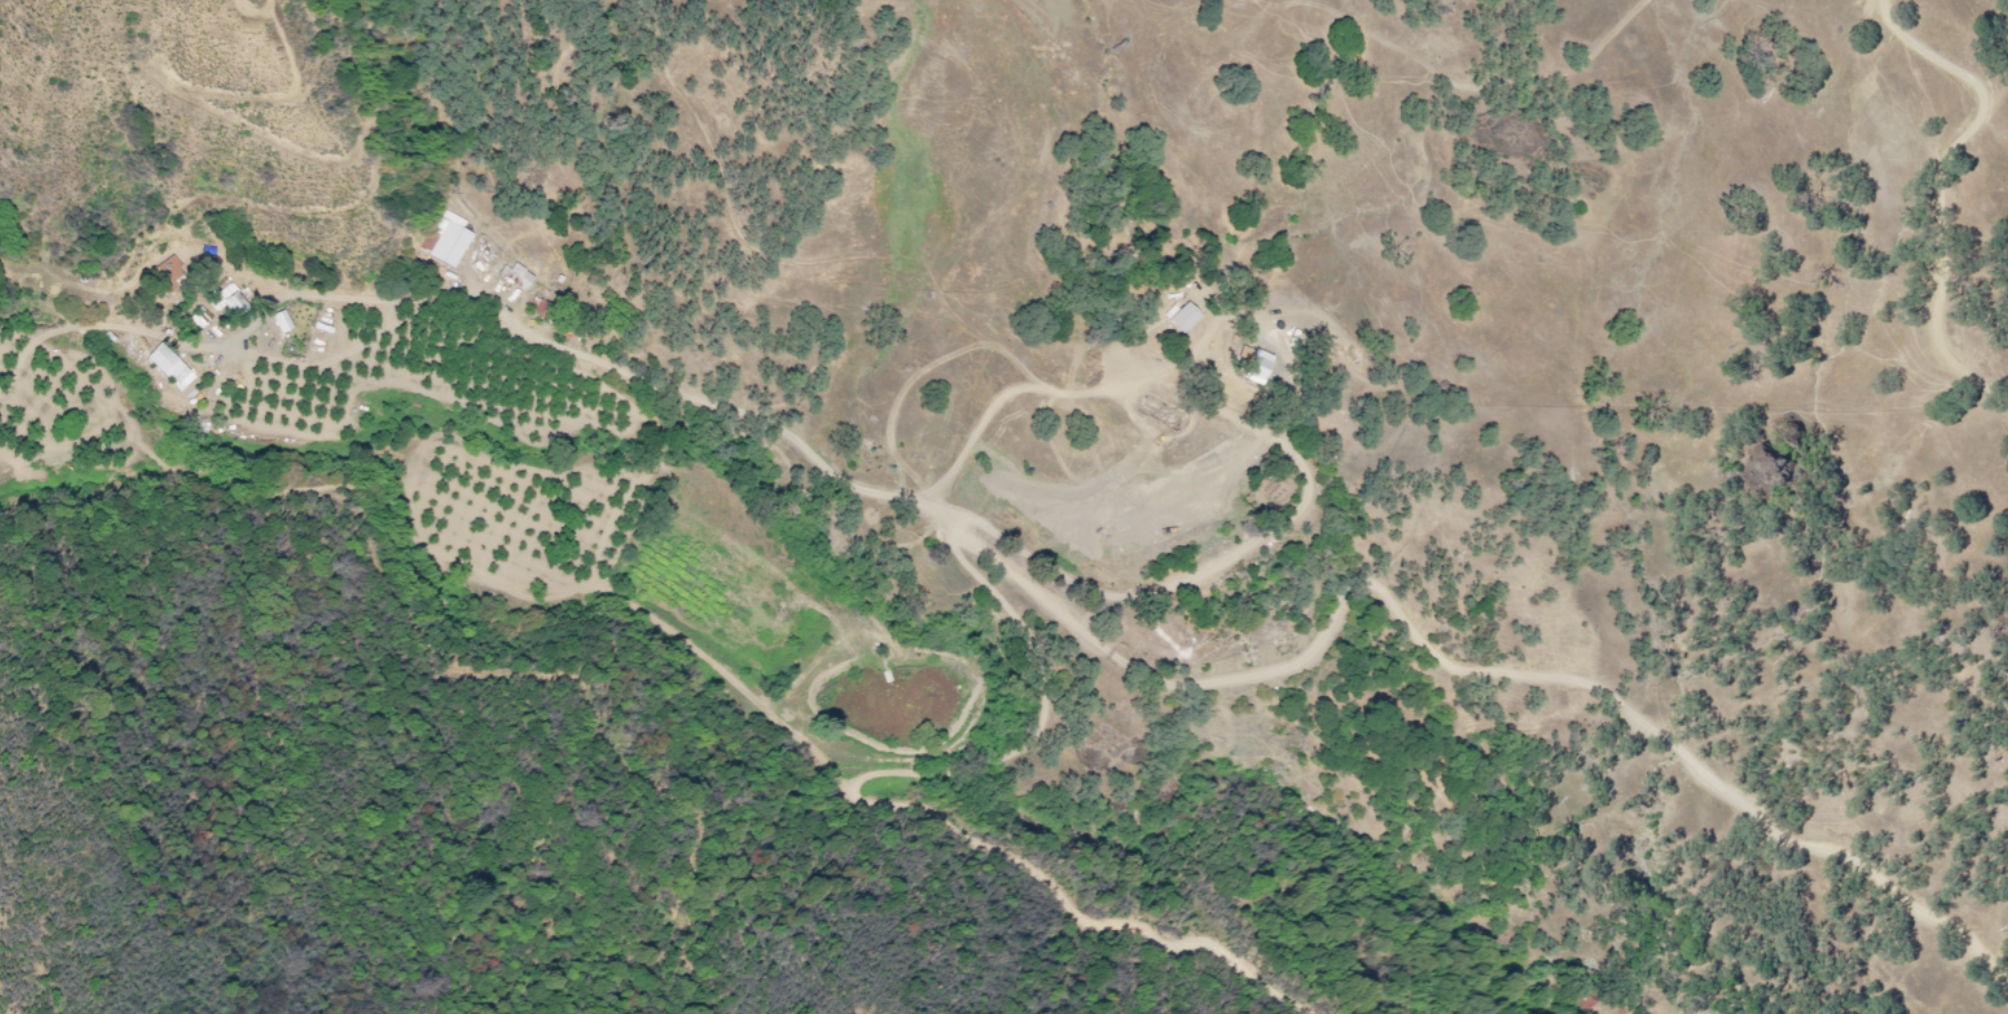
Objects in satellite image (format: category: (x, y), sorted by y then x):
road: (1948, 152)
building: (454, 243)
building: (176, 275)
building: (525, 279)
building: (236, 304)
building: (1191, 320)
building: (206, 322)
building: (290, 325)
building: (178, 370)
building: (1268, 370)
crop: (409, 442)
road: (1244, 552)
road: (1284, 673)
road: (943, 807)

